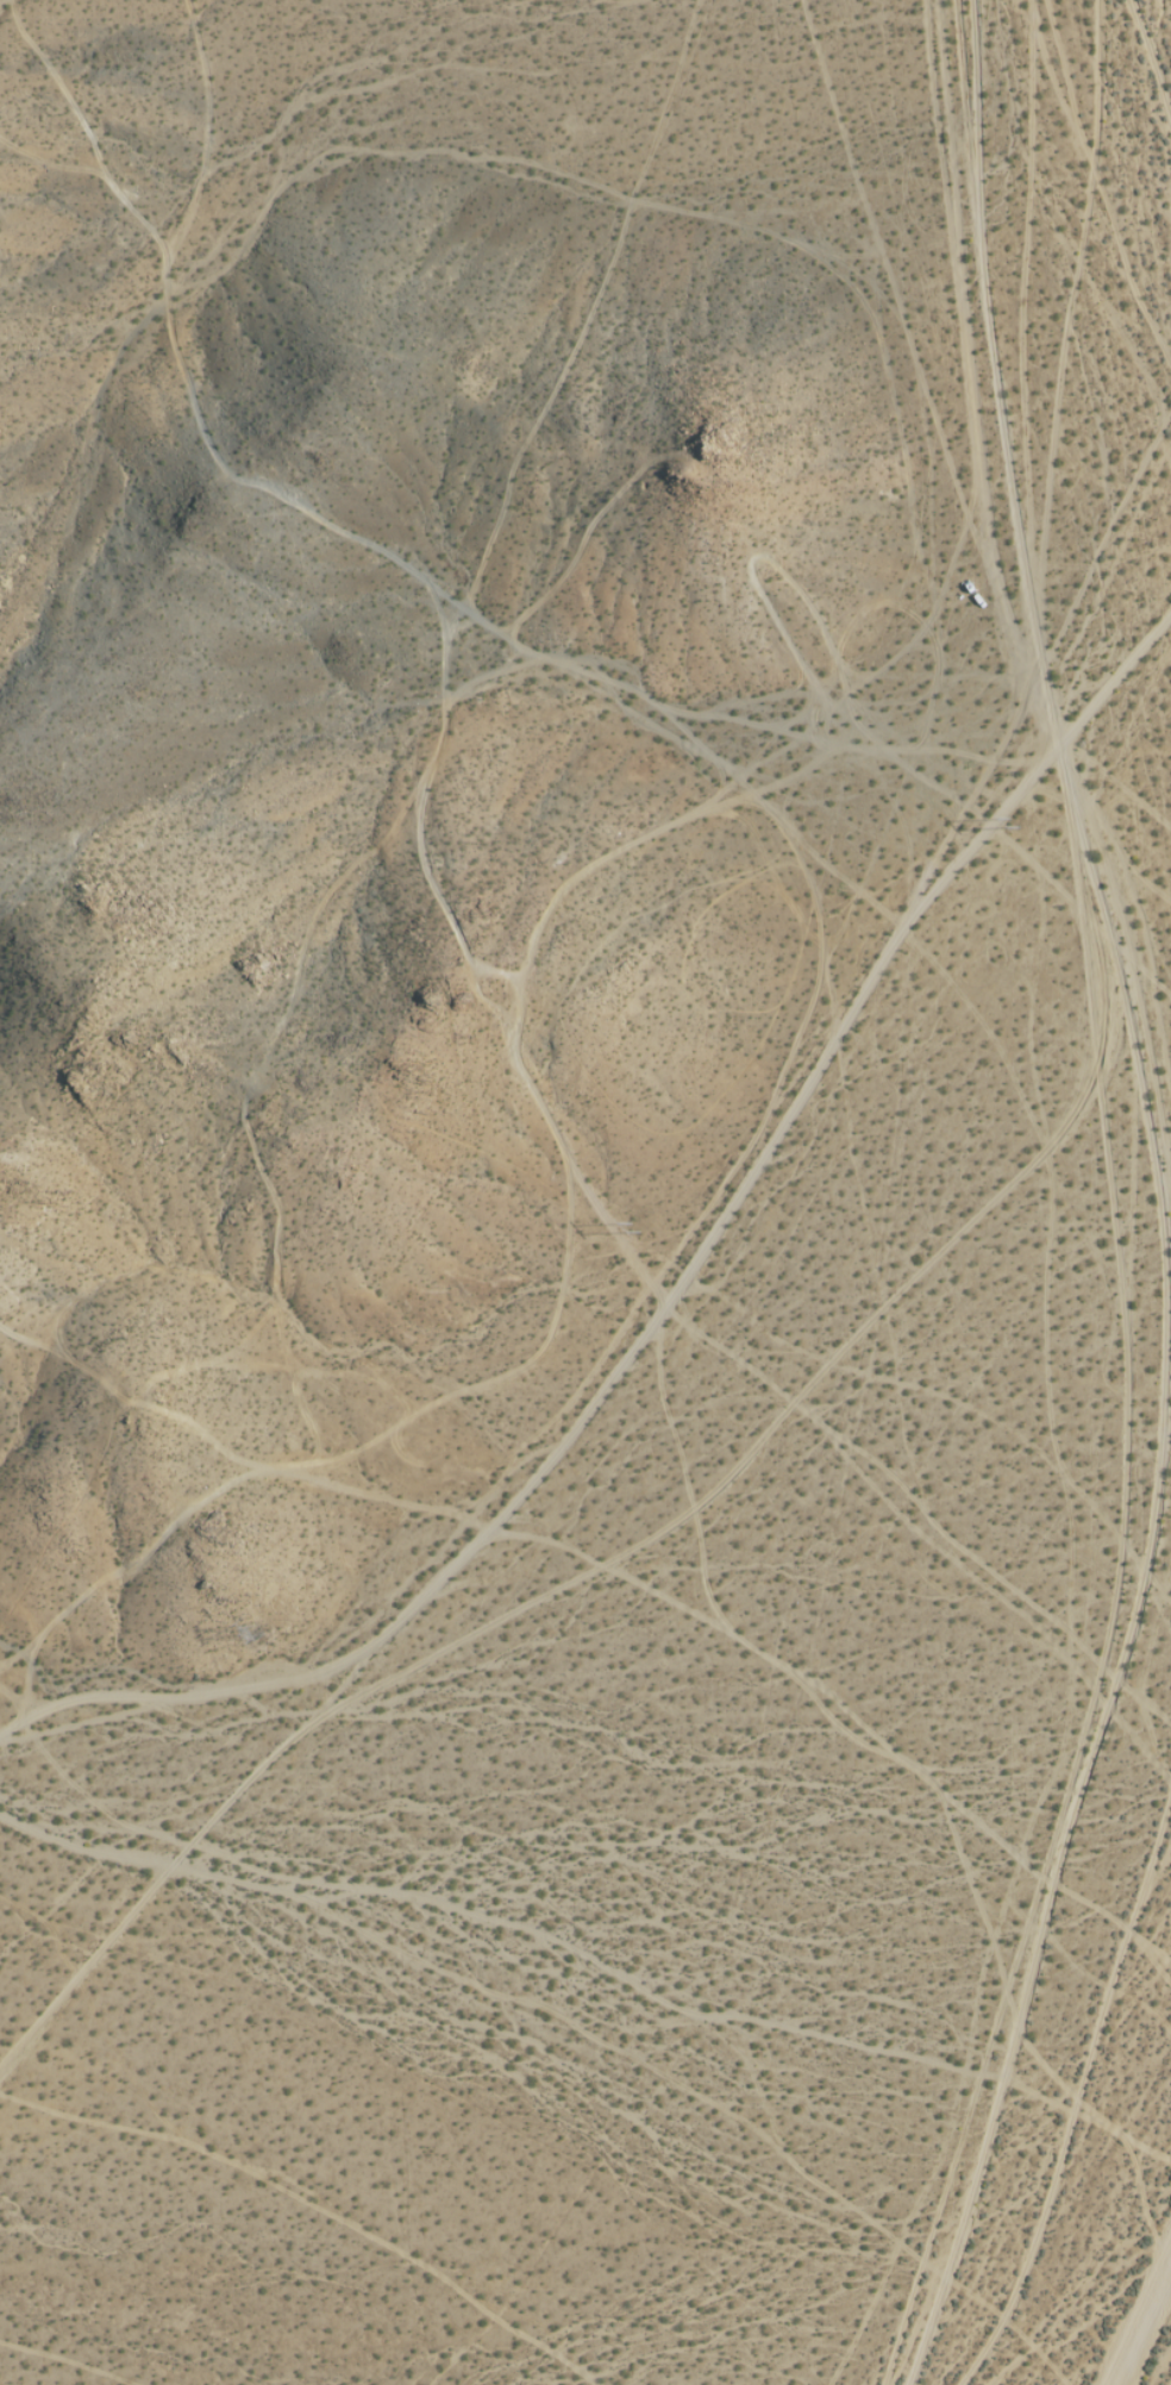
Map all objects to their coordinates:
road: (968, 380)
road: (1111, 680)
power tower: (1023, 820)
road: (1116, 975)
power tower: (645, 1228)
road: (618, 1370)
road: (596, 1570)
power tower: (259, 1632)
road: (1136, 2315)

